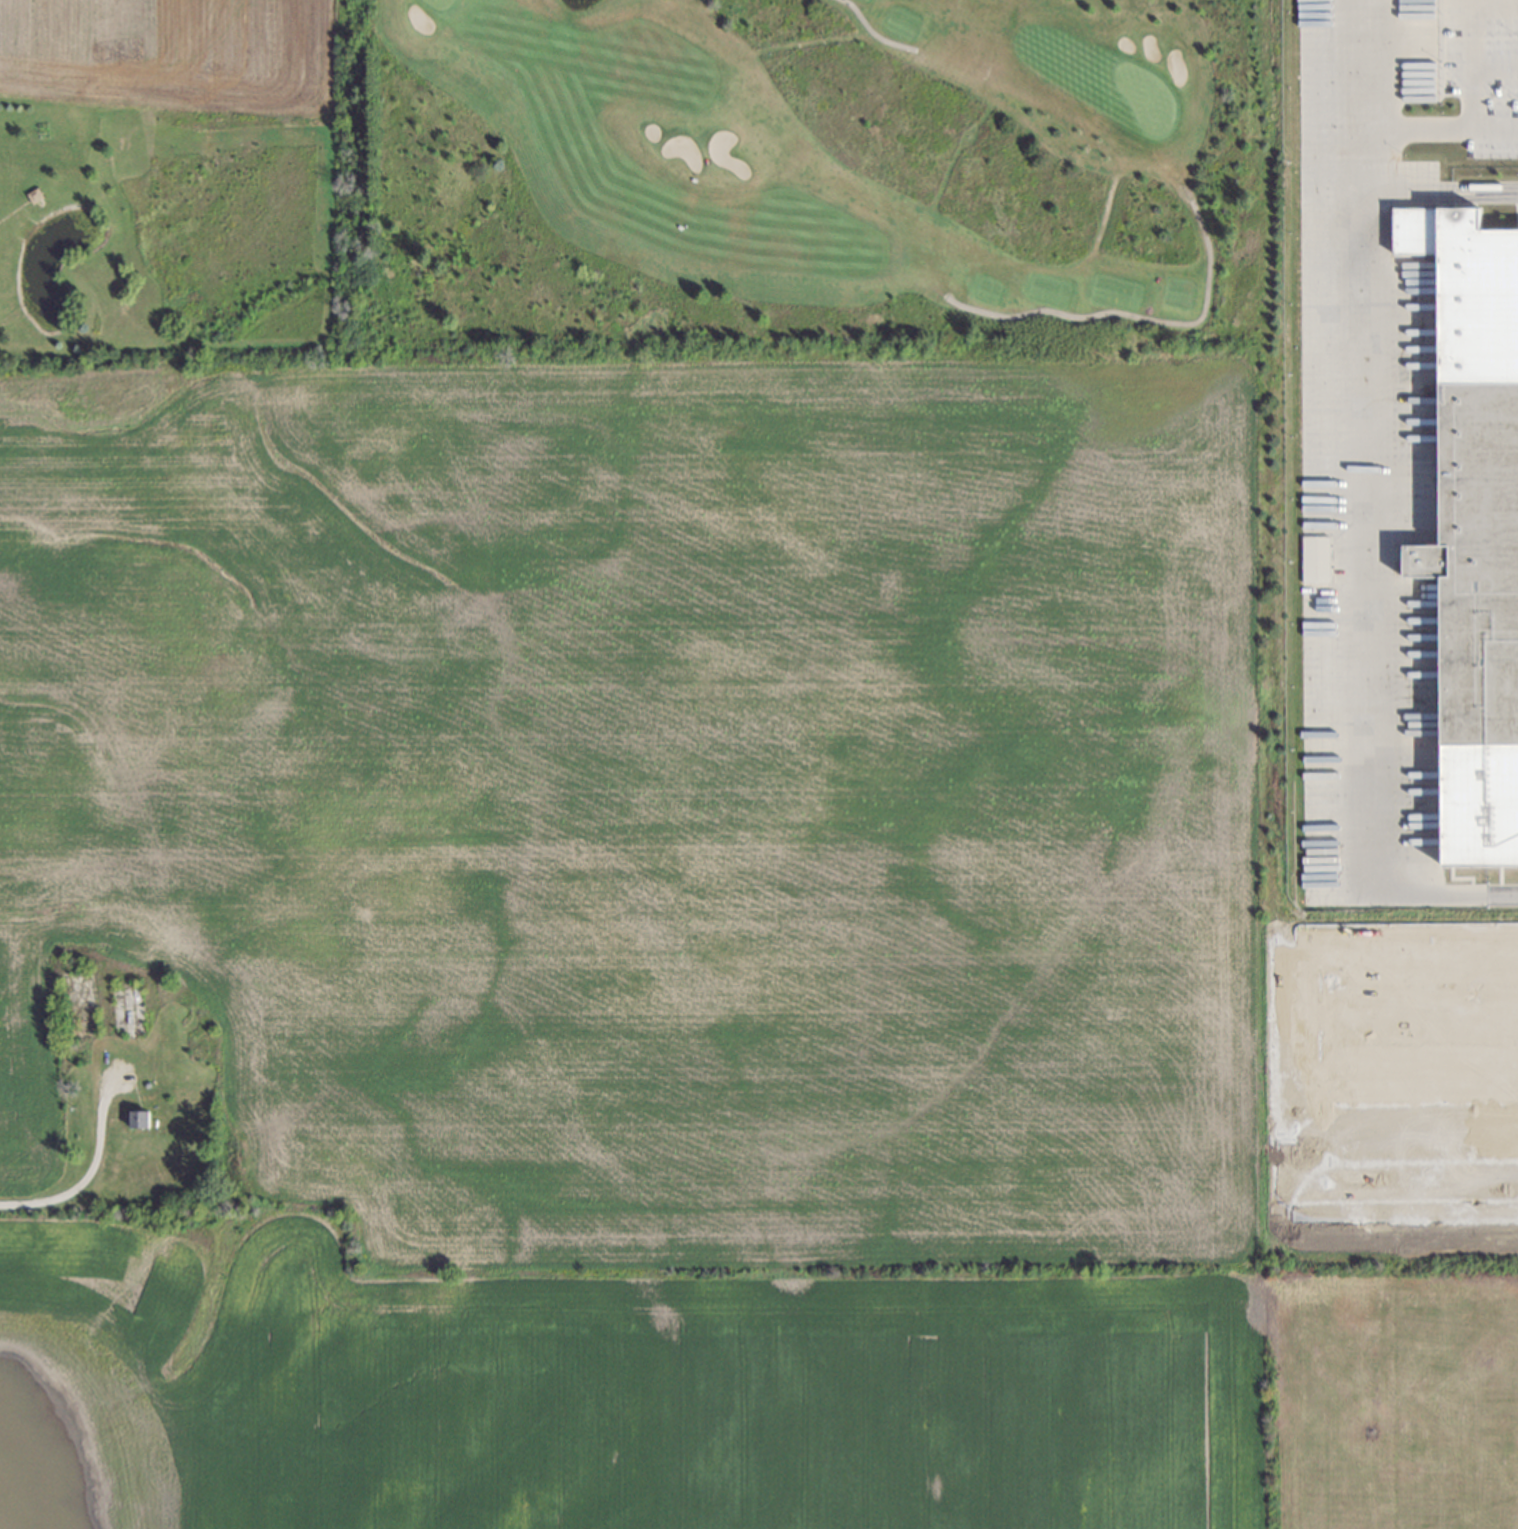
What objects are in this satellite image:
building: (701, 1)
road: (1496, 3)
road: (874, 32)
building: (807, 42)
road: (1475, 62)
road: (1496, 64)
road: (1367, 74)
road: (1496, 124)
road: (1392, 130)
building: (952, 158)
park: (794, 181)
building: (1102, 216)
road: (1132, 314)
road: (1352, 542)
building: (1315, 558)
building: (1479, 564)
road: (1410, 1018)
road: (1303, 1072)
road: (1411, 1074)
building: (138, 1118)
road: (1412, 1133)
road: (87, 1172)

